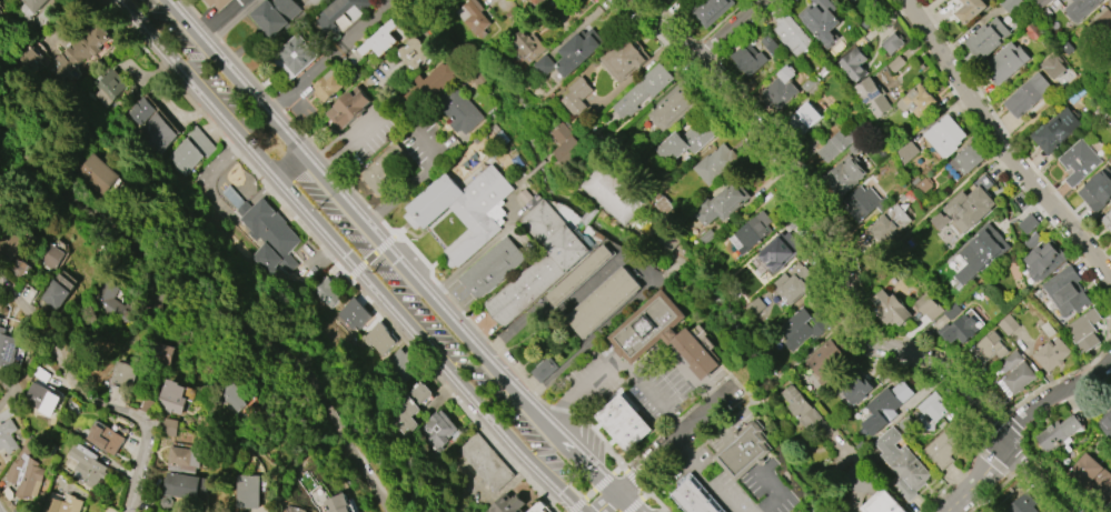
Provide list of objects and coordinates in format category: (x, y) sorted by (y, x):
building: (536, 1)
building: (849, 1)
building: (218, 3)
building: (31, 4)
building: (1010, 4)
building: (970, 9)
building: (1082, 9)
building: (710, 10)
building: (275, 14)
building: (337, 16)
road: (217, 17)
building: (476, 19)
building: (820, 20)
road: (231, 21)
building: (1104, 22)
road: (730, 30)
building: (788, 31)
building: (380, 39)
building: (988, 39)
building: (892, 43)
building: (527, 46)
building: (576, 51)
building: (71, 52)
building: (413, 52)
building: (295, 56)
road: (331, 56)
building: (623, 58)
building: (747, 60)
building: (23, 61)
building: (1009, 62)
building: (853, 64)
building: (1052, 67)
building: (435, 80)
building: (327, 86)
building: (100, 87)
building: (780, 88)
building: (643, 90)
building: (1030, 96)
building: (576, 97)
building: (872, 97)
road: (1059, 98)
building: (916, 100)
building: (347, 108)
building: (672, 109)
building: (137, 110)
building: (459, 111)
building: (803, 118)
building: (1059, 130)
building: (153, 131)
building: (945, 135)
road: (351, 139)
building: (688, 140)
building: (564, 143)
road: (1006, 143)
building: (837, 144)
building: (906, 152)
building: (183, 157)
building: (969, 159)
building: (1081, 162)
building: (715, 163)
road: (291, 165)
building: (383, 169)
building: (92, 174)
building: (844, 174)
building: (1097, 190)
building: (612, 193)
building: (722, 203)
building: (863, 203)
road: (348, 205)
building: (970, 207)
building: (462, 209)
road: (926, 215)
building: (1107, 220)
building: (1028, 223)
building: (889, 224)
building: (753, 232)
building: (268, 239)
building: (10, 249)
building: (777, 251)
building: (980, 253)
road: (349, 255)
building: (50, 257)
road: (370, 257)
road: (476, 257)
building: (1044, 260)
building: (537, 263)
road: (637, 265)
building: (19, 268)
building: (490, 268)
building: (578, 275)
road: (845, 279)
building: (794, 285)
building: (325, 292)
building: (1067, 292)
building: (54, 295)
building: (106, 298)
building: (603, 302)
building: (928, 305)
building: (891, 308)
building: (353, 314)
building: (0, 319)
road: (201, 319)
building: (1008, 324)
building: (646, 328)
building: (803, 329)
building: (959, 329)
building: (1084, 331)
road: (824, 337)
building: (377, 339)
building: (989, 348)
building: (7, 350)
building: (695, 353)
building: (161, 354)
building: (1051, 354)
building: (825, 359)
building: (1013, 360)
building: (399, 363)
road: (790, 364)
building: (544, 370)
building: (122, 373)
building: (1018, 379)
road: (766, 382)
building: (859, 389)
road: (742, 390)
road: (652, 392)
building: (229, 396)
building: (170, 398)
building: (41, 399)
road: (95, 400)
building: (885, 406)
building: (801, 408)
building: (407, 409)
building: (932, 410)
road: (1016, 420)
building: (1105, 422)
building: (624, 423)
building: (169, 428)
building: (437, 430)
building: (1060, 431)
building: (7, 436)
building: (106, 438)
building: (943, 445)
road: (663, 448)
building: (744, 451)
building: (182, 459)
building: (486, 462)
road: (578, 462)
building: (902, 463)
building: (87, 465)
building: (26, 472)
building: (1091, 475)
building: (185, 489)
building: (247, 491)
road: (782, 492)
building: (694, 496)
building: (338, 503)
building: (507, 503)
building: (882, 503)
building: (62, 504)
building: (1022, 504)
building: (537, 508)
road: (943, 510)

